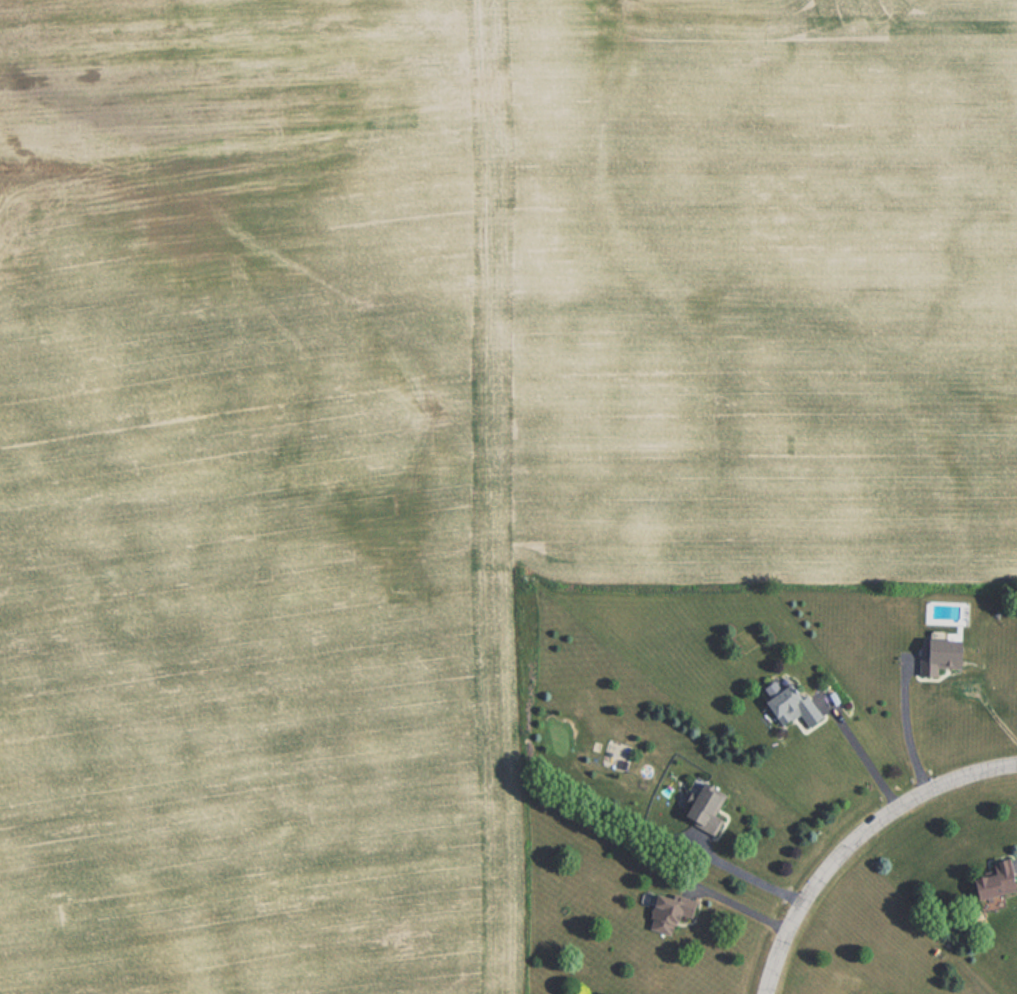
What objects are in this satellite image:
building: (936, 655)
building: (788, 706)
road: (907, 726)
road: (860, 751)
building: (699, 805)
road: (857, 840)
road: (748, 873)
building: (992, 877)
road: (736, 904)

